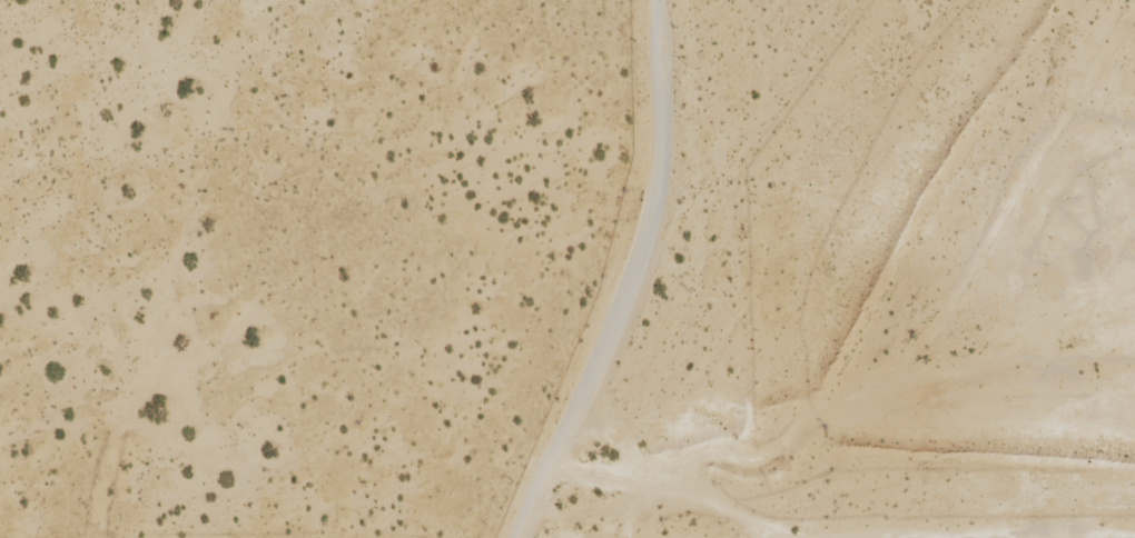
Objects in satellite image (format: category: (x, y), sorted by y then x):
road: (630, 277)

